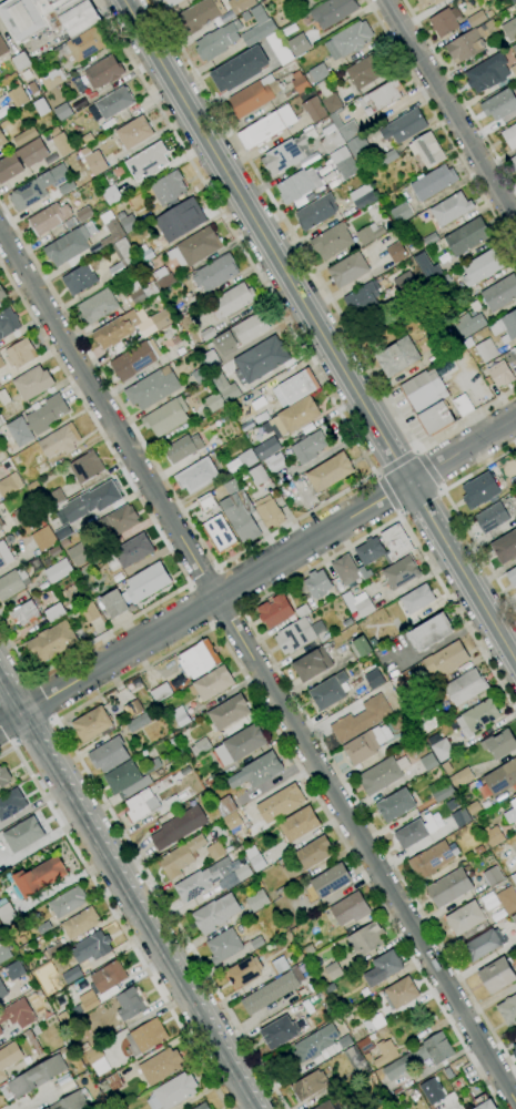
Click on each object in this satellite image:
building: (52, 1)
building: (285, 1)
building: (513, 1)
building: (172, 2)
building: (301, 3)
building: (426, 3)
building: (515, 6)
building: (43, 7)
building: (333, 11)
building: (209, 13)
road: (132, 14)
building: (75, 16)
building: (21, 19)
building: (476, 19)
building: (52, 20)
building: (445, 21)
building: (259, 27)
building: (510, 30)
building: (348, 40)
building: (217, 41)
building: (471, 42)
building: (84, 44)
building: (297, 45)
building: (2, 48)
building: (280, 48)
building: (514, 48)
building: (21, 61)
building: (240, 69)
building: (368, 69)
building: (514, 70)
building: (103, 72)
building: (487, 73)
building: (27, 74)
building: (316, 74)
building: (52, 78)
building: (300, 82)
building: (33, 88)
building: (17, 94)
road: (458, 94)
building: (255, 95)
building: (330, 98)
building: (380, 98)
building: (113, 102)
building: (499, 104)
building: (314, 109)
road: (451, 109)
building: (62, 112)
building: (404, 126)
road: (441, 126)
building: (266, 128)
building: (345, 128)
building: (54, 131)
building: (134, 133)
building: (24, 136)
building: (510, 136)
building: (2, 139)
building: (85, 140)
building: (62, 144)
building: (358, 147)
building: (299, 149)
building: (426, 150)
building: (387, 157)
building: (92, 161)
building: (146, 162)
building: (344, 162)
building: (513, 162)
building: (10, 163)
building: (433, 183)
building: (294, 186)
building: (38, 187)
building: (67, 187)
building: (168, 187)
building: (111, 195)
building: (363, 197)
building: (451, 208)
building: (316, 212)
building: (401, 212)
building: (83, 213)
building: (49, 218)
building: (180, 220)
building: (127, 222)
building: (69, 224)
building: (111, 228)
building: (370, 233)
building: (467, 236)
building: (431, 238)
building: (332, 241)
building: (70, 244)
building: (195, 247)
building: (396, 252)
building: (144, 254)
building: (122, 257)
building: (149, 264)
building: (426, 266)
building: (483, 266)
building: (347, 269)
building: (215, 273)
road: (313, 273)
building: (163, 277)
building: (79, 279)
building: (444, 281)
building: (405, 282)
building: (2, 293)
building: (139, 293)
building: (500, 293)
building: (363, 297)
building: (232, 301)
building: (97, 307)
building: (429, 312)
building: (8, 323)
building: (468, 324)
building: (130, 327)
building: (506, 327)
building: (243, 332)
building: (208, 334)
building: (175, 340)
building: (439, 344)
building: (0, 345)
road: (326, 345)
building: (485, 350)
building: (20, 354)
building: (510, 355)
building: (397, 357)
building: (260, 359)
building: (134, 360)
building: (210, 360)
building: (1, 363)
building: (444, 367)
building: (500, 374)
building: (200, 375)
building: (33, 383)
building: (225, 387)
building: (152, 388)
building: (294, 388)
building: (3, 397)
building: (428, 399)
building: (214, 401)
building: (259, 404)
building: (463, 405)
building: (165, 417)
building: (292, 417)
building: (1, 420)
building: (37, 420)
building: (60, 441)
building: (308, 447)
building: (183, 448)
building: (266, 448)
building: (247, 458)
building: (275, 462)
road: (397, 462)
building: (85, 467)
road: (434, 467)
building: (330, 471)
building: (257, 474)
building: (196, 476)
building: (9, 485)
building: (33, 487)
road: (350, 489)
building: (479, 490)
road: (387, 496)
building: (55, 497)
building: (91, 501)
building: (206, 502)
road: (142, 505)
road: (422, 505)
building: (240, 511)
building: (269, 511)
building: (23, 516)
road: (457, 516)
building: (490, 517)
building: (120, 519)
building: (0, 523)
building: (63, 532)
building: (41, 533)
building: (219, 535)
building: (396, 542)
building: (505, 548)
building: (54, 551)
building: (371, 551)
building: (129, 552)
building: (4, 554)
building: (78, 554)
building: (348, 570)
building: (58, 571)
building: (401, 572)
road: (203, 573)
road: (259, 573)
building: (118, 577)
building: (512, 577)
building: (144, 582)
building: (11, 583)
building: (317, 583)
road: (231, 588)
building: (416, 599)
building: (113, 603)
building: (360, 603)
road: (503, 604)
road: (202, 606)
building: (275, 611)
building: (302, 611)
building: (54, 612)
building: (23, 613)
building: (89, 613)
road: (229, 619)
building: (347, 622)
building: (429, 632)
building: (294, 635)
building: (51, 642)
building: (360, 648)
road: (16, 653)
building: (199, 659)
building: (445, 659)
building: (313, 662)
road: (10, 664)
road: (274, 664)
road: (257, 665)
building: (374, 679)
road: (30, 681)
building: (212, 683)
building: (466, 686)
road: (13, 691)
building: (328, 691)
building: (160, 692)
road: (9, 700)
road: (39, 700)
road: (32, 702)
building: (132, 709)
building: (229, 712)
building: (180, 716)
building: (425, 718)
building: (476, 718)
building: (361, 719)
road: (52, 720)
building: (138, 722)
building: (397, 723)
building: (92, 724)
road: (4, 726)
road: (27, 732)
road: (13, 740)
building: (366, 744)
building: (499, 744)
building: (240, 745)
building: (201, 746)
building: (439, 747)
road: (59, 749)
road: (7, 750)
building: (109, 754)
building: (428, 762)
building: (446, 767)
building: (257, 771)
road: (59, 773)
building: (3, 776)
building: (217, 776)
building: (378, 776)
building: (461, 776)
building: (130, 777)
building: (502, 777)
road: (310, 788)
building: (443, 793)
building: (515, 796)
building: (171, 802)
building: (280, 803)
building: (11, 804)
building: (141, 805)
building: (395, 805)
building: (452, 805)
building: (225, 806)
building: (510, 812)
building: (461, 817)
building: (299, 824)
building: (234, 826)
building: (178, 827)
building: (23, 834)
building: (411, 834)
building: (493, 835)
building: (478, 849)
building: (215, 851)
building: (314, 853)
building: (181, 856)
building: (254, 858)
building: (432, 859)
building: (283, 863)
building: (242, 872)
building: (493, 876)
building: (39, 877)
building: (514, 877)
building: (201, 881)
building: (327, 882)
building: (290, 887)
building: (449, 888)
building: (256, 899)
building: (507, 899)
building: (67, 902)
building: (350, 909)
building: (7, 913)
building: (214, 914)
road: (169, 915)
building: (464, 918)
building: (514, 918)
building: (80, 923)
building: (0, 927)
building: (43, 927)
road: (120, 927)
road: (143, 928)
building: (366, 939)
road: (168, 943)
building: (256, 943)
building: (483, 944)
building: (224, 946)
building: (91, 947)
building: (308, 949)
building: (53, 950)
building: (4, 952)
building: (279, 965)
building: (386, 965)
building: (14, 970)
building: (333, 970)
building: (244, 971)
building: (72, 975)
building: (497, 975)
building: (108, 977)
building: (2, 990)
building: (270, 993)
building: (401, 993)
building: (89, 1000)
building: (129, 1004)
building: (342, 1006)
building: (508, 1010)
building: (18, 1014)
building: (63, 1019)
building: (374, 1022)
building: (36, 1030)
building: (1, 1031)
building: (279, 1032)
building: (149, 1035)
building: (345, 1041)
building: (33, 1042)
building: (315, 1042)
building: (365, 1045)
building: (84, 1047)
building: (514, 1050)
building: (385, 1052)
building: (93, 1055)
building: (421, 1056)
building: (9, 1057)
building: (356, 1061)
building: (160, 1066)
building: (37, 1076)
building: (114, 1081)
building: (65, 1082)
building: (308, 1085)
building: (431, 1090)
building: (173, 1092)
building: (72, 1101)
building: (330, 1105)
building: (202, 1106)
building: (486, 1106)

